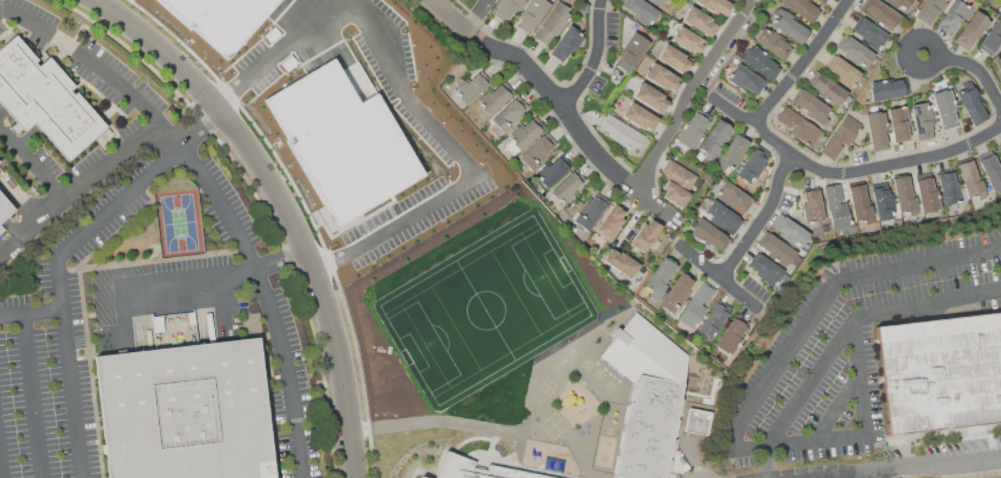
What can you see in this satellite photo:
building: (735, 0)
building: (565, 1)
building: (822, 1)
building: (657, 2)
building: (898, 3)
building: (716, 6)
building: (508, 7)
building: (802, 9)
building: (930, 9)
building: (641, 10)
building: (882, 13)
building: (532, 14)
building: (953, 15)
road: (479, 16)
road: (453, 19)
building: (700, 21)
building: (553, 22)
building: (790, 27)
building: (972, 29)
building: (870, 33)
building: (992, 37)
building: (688, 40)
building: (566, 43)
building: (773, 43)
building: (854, 50)
road: (281, 51)
building: (631, 52)
road: (597, 58)
building: (674, 58)
road: (807, 60)
building: (760, 63)
road: (971, 65)
building: (1000, 67)
building: (843, 72)
building: (661, 77)
building: (745, 79)
building: (473, 87)
building: (827, 89)
building: (888, 89)
road: (690, 94)
building: (495, 97)
building: (651, 97)
building: (44, 100)
building: (972, 105)
building: (811, 106)
building: (944, 108)
road: (566, 109)
building: (510, 114)
building: (640, 116)
building: (922, 121)
building: (899, 122)
building: (799, 126)
road: (199, 127)
building: (876, 128)
building: (693, 131)
building: (621, 132)
building: (524, 135)
building: (841, 136)
building: (714, 139)
building: (538, 151)
building: (1000, 151)
building: (733, 152)
road: (459, 161)
building: (753, 164)
road: (33, 165)
building: (553, 170)
building: (991, 172)
road: (845, 173)
building: (680, 175)
building: (970, 179)
building: (568, 186)
building: (949, 188)
road: (78, 191)
building: (676, 194)
building: (904, 195)
building: (927, 195)
building: (734, 196)
road: (218, 198)
building: (859, 200)
road: (117, 201)
building: (882, 203)
building: (5, 206)
road: (286, 206)
building: (812, 206)
building: (837, 207)
building: (590, 212)
building: (722, 216)
road: (765, 219)
building: (611, 221)
park: (179, 222)
building: (789, 230)
building: (709, 234)
building: (646, 236)
building: (777, 249)
road: (282, 259)
building: (621, 262)
road: (920, 264)
building: (767, 269)
road: (188, 277)
road: (723, 277)
building: (660, 278)
building: (677, 292)
road: (930, 303)
building: (696, 305)
road: (31, 312)
building: (715, 318)
building: (731, 336)
building: (645, 352)
road: (780, 362)
road: (69, 367)
building: (940, 372)
road: (861, 377)
road: (815, 380)
road: (33, 396)
road: (839, 407)
building: (189, 412)
road: (432, 421)
building: (698, 421)
building: (648, 429)
road: (800, 441)
road: (766, 462)
road: (955, 462)
road: (1, 465)
building: (478, 470)
road: (867, 473)
building: (423, 477)

